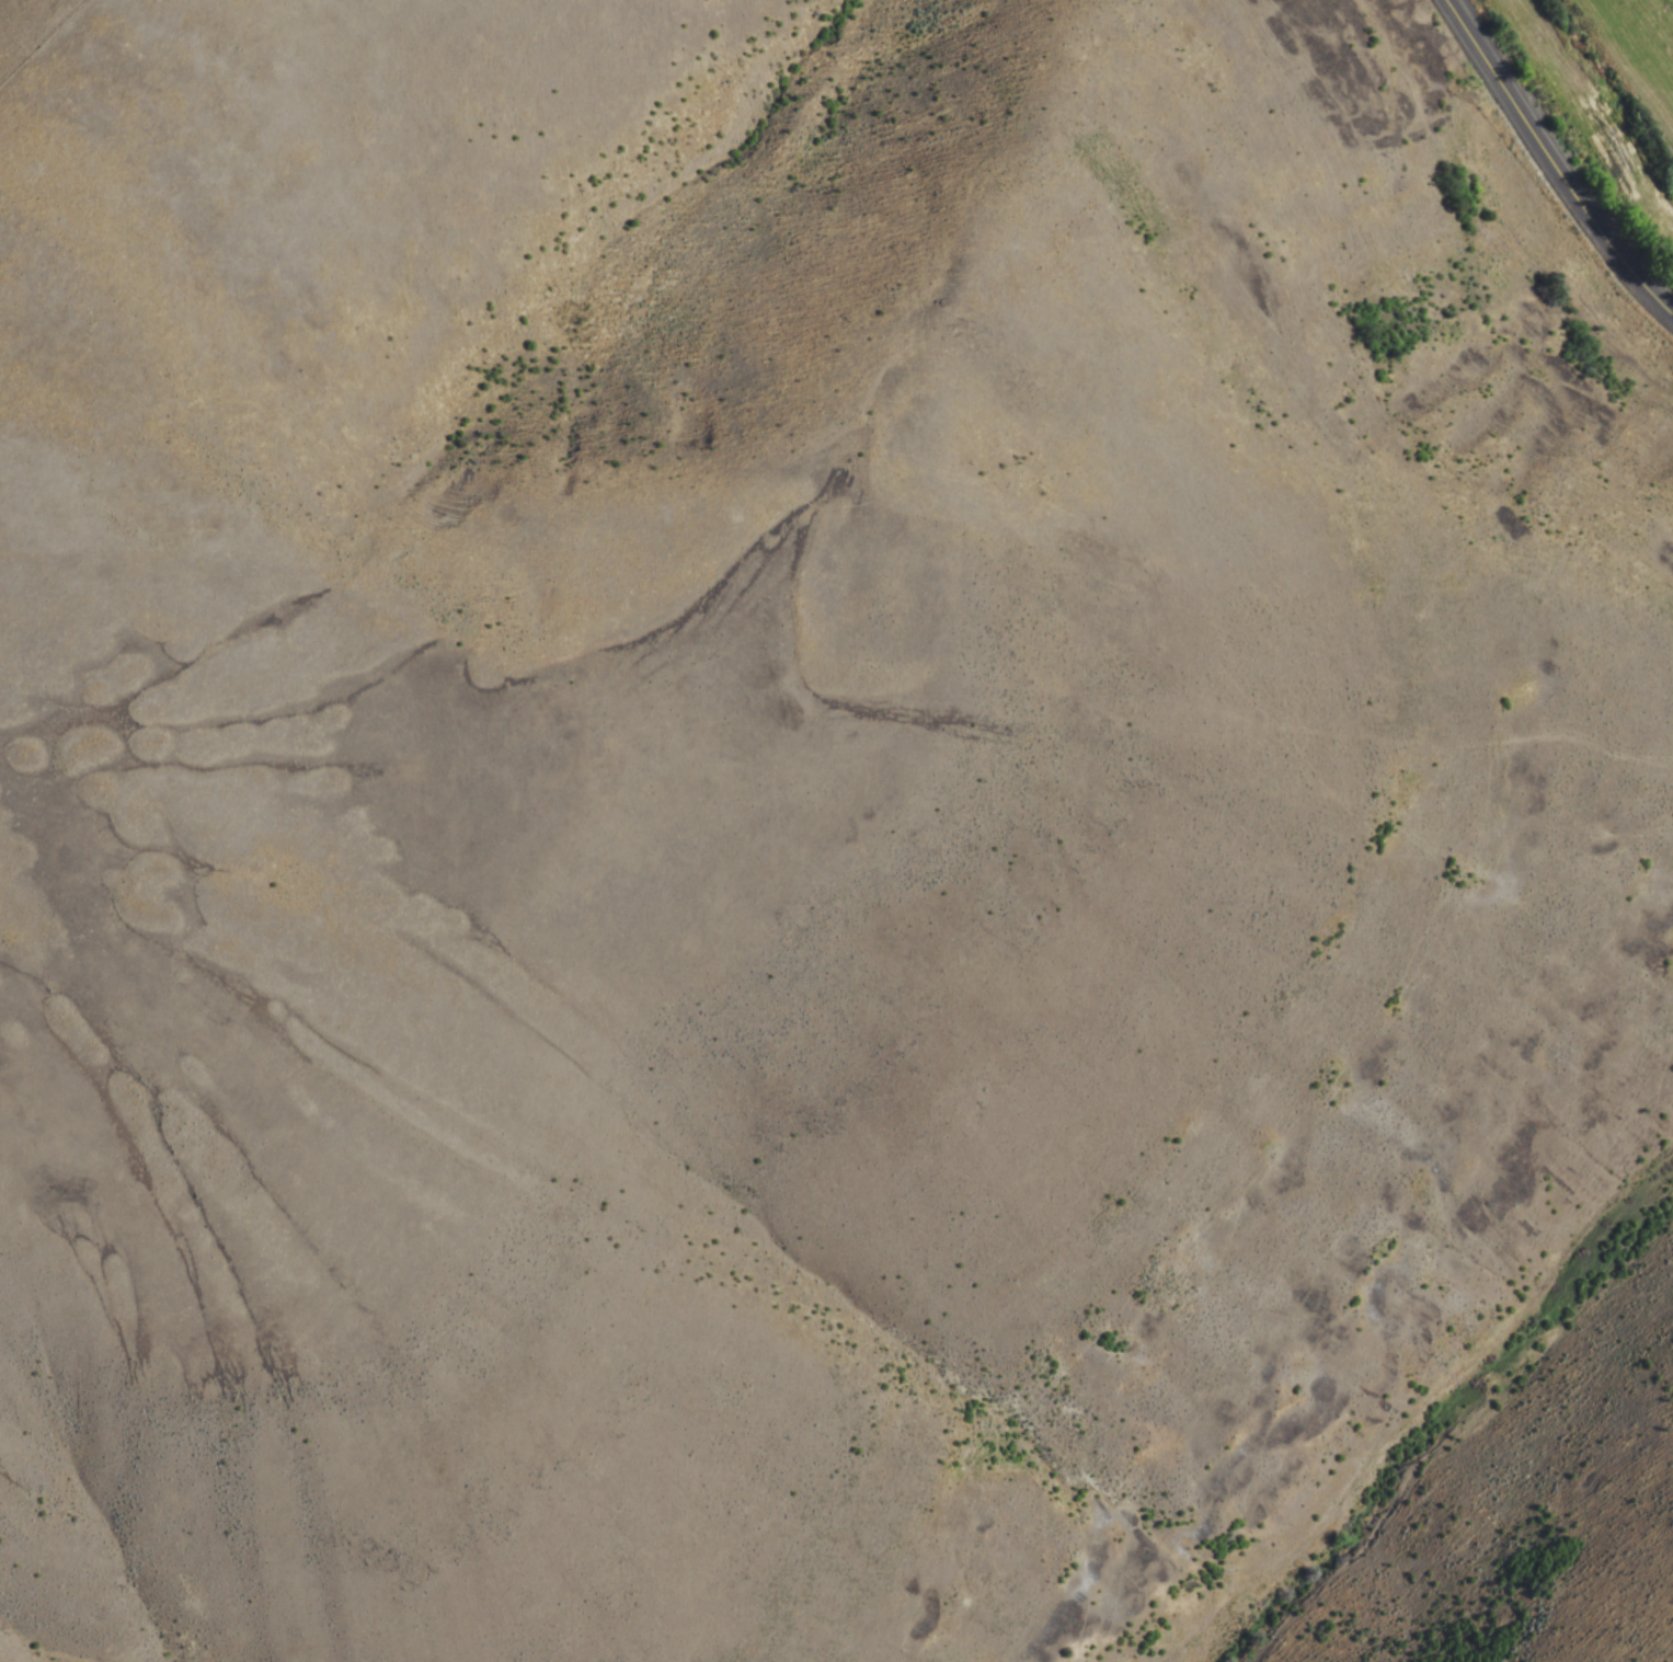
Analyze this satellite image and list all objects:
road: (1551, 163)

